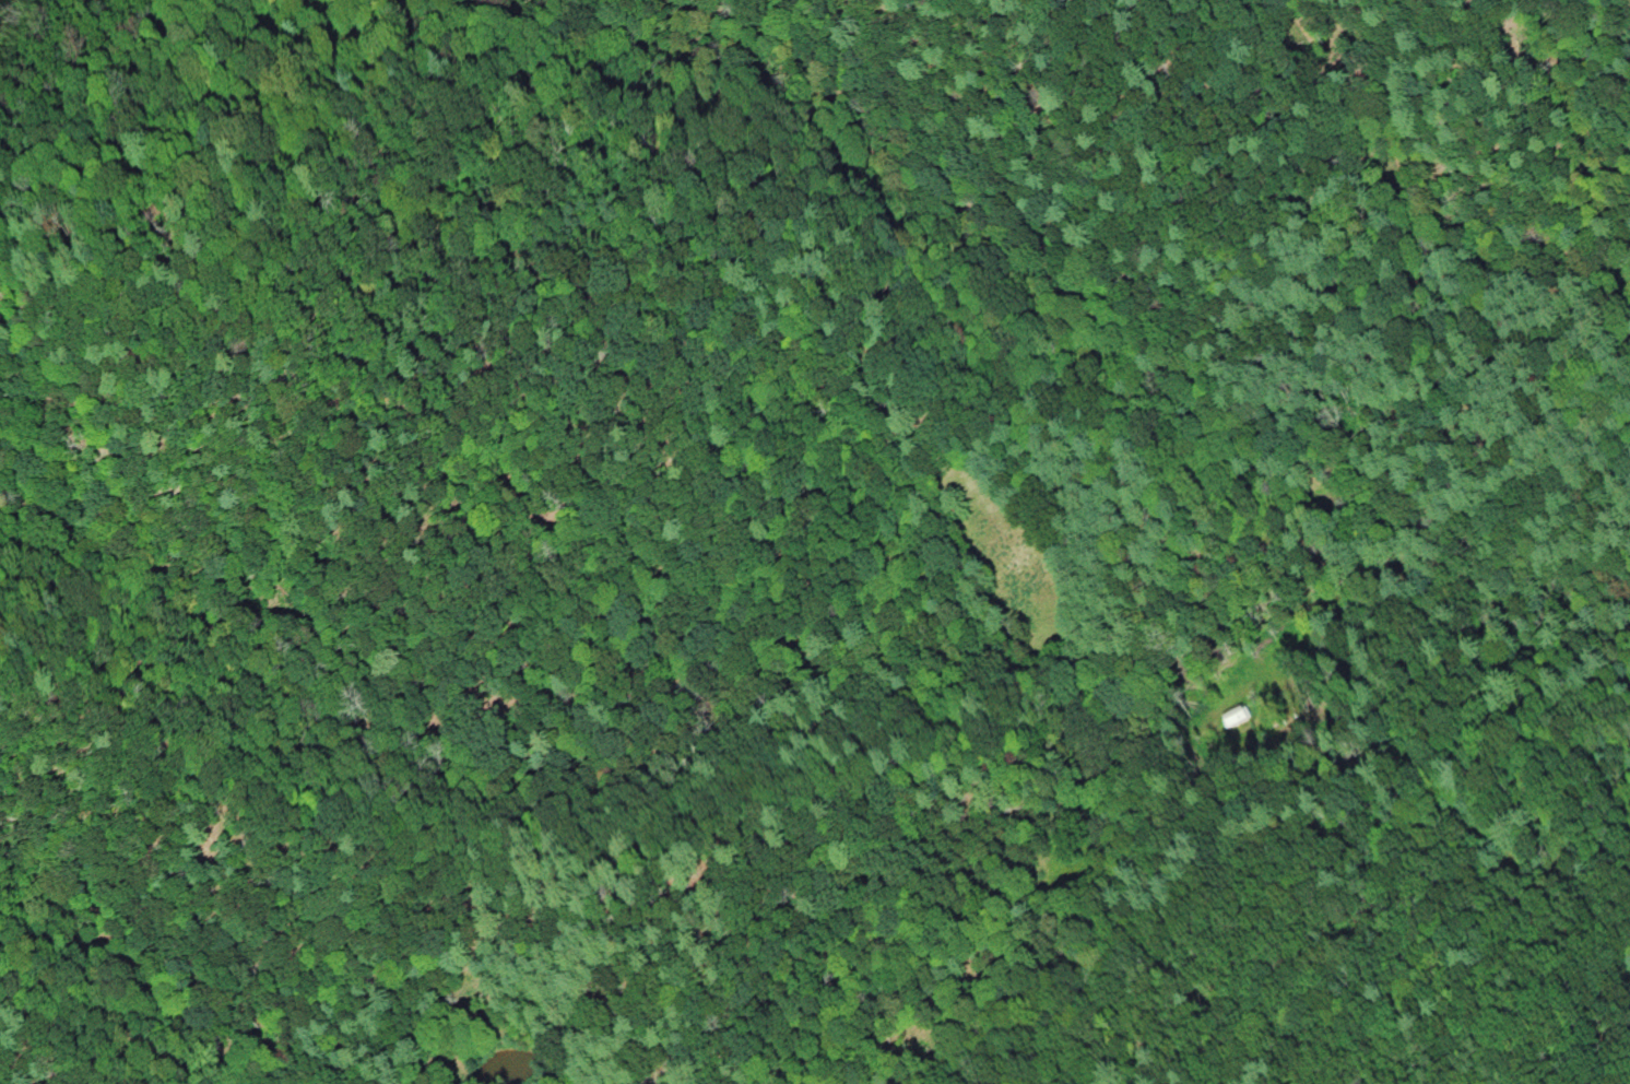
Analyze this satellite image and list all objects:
building: (1254, 718)

